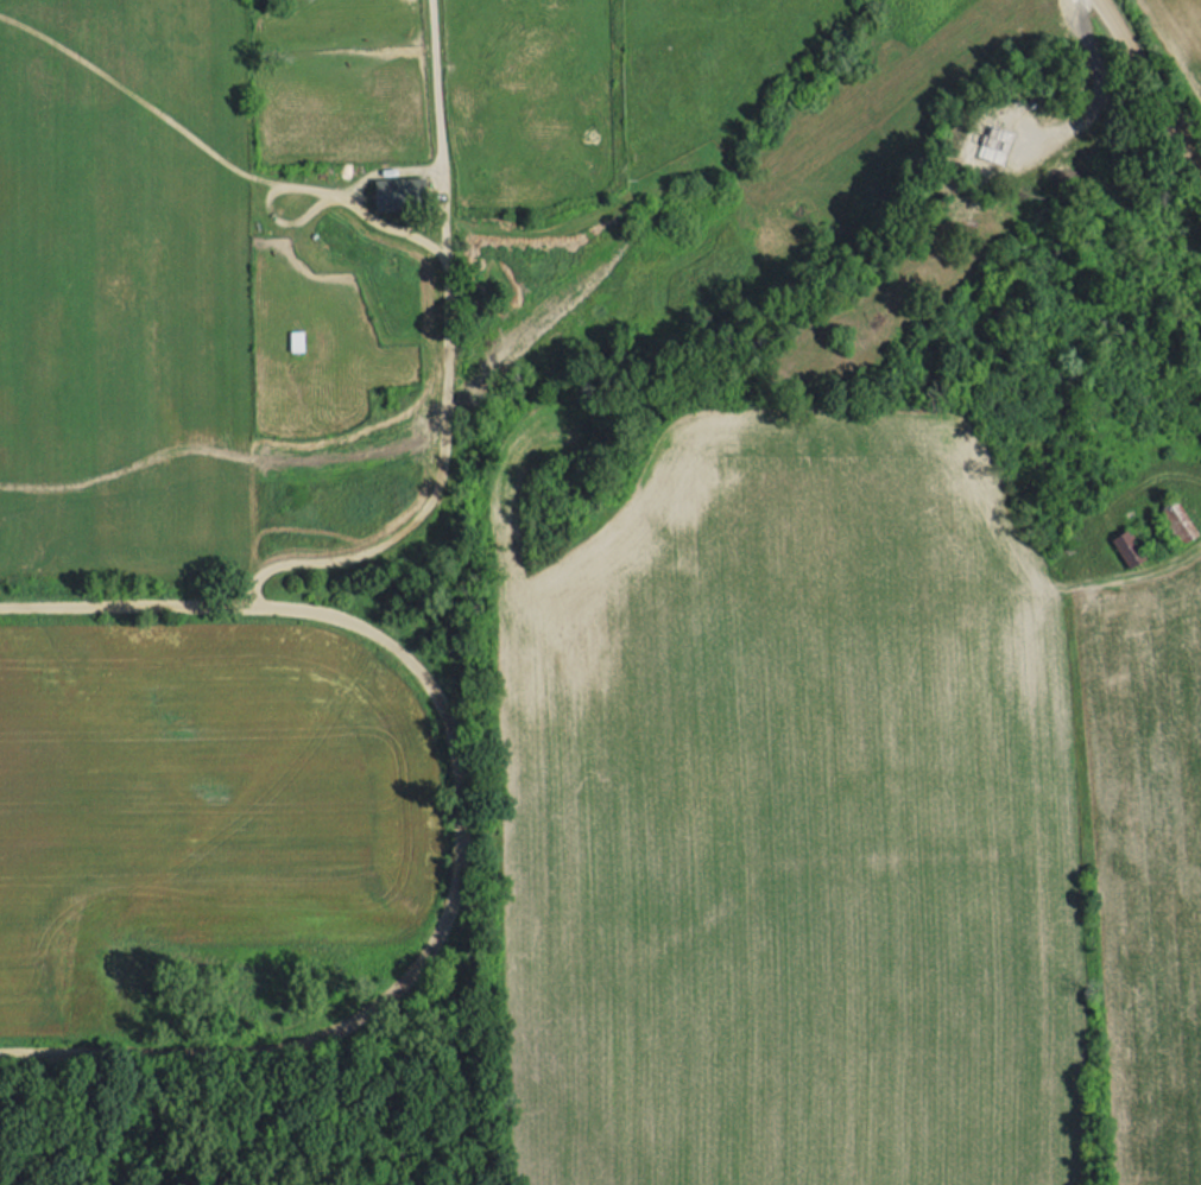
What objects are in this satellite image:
road: (435, 75)
road: (1152, 81)
building: (399, 183)
building: (298, 331)
building: (1180, 511)
building: (1130, 538)

